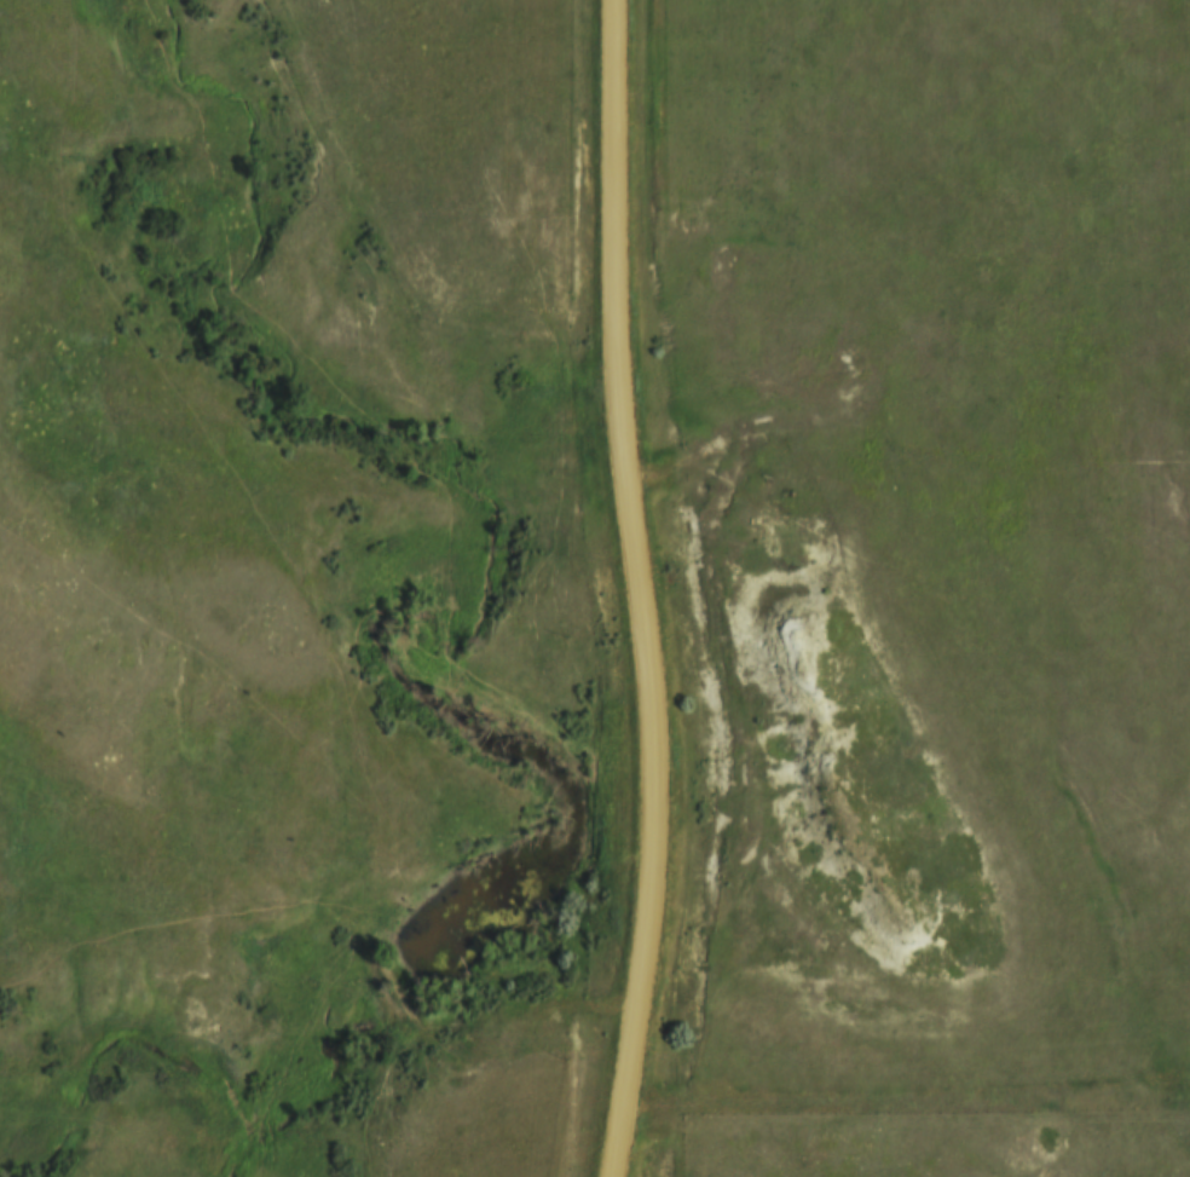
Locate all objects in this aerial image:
road: (640, 589)

